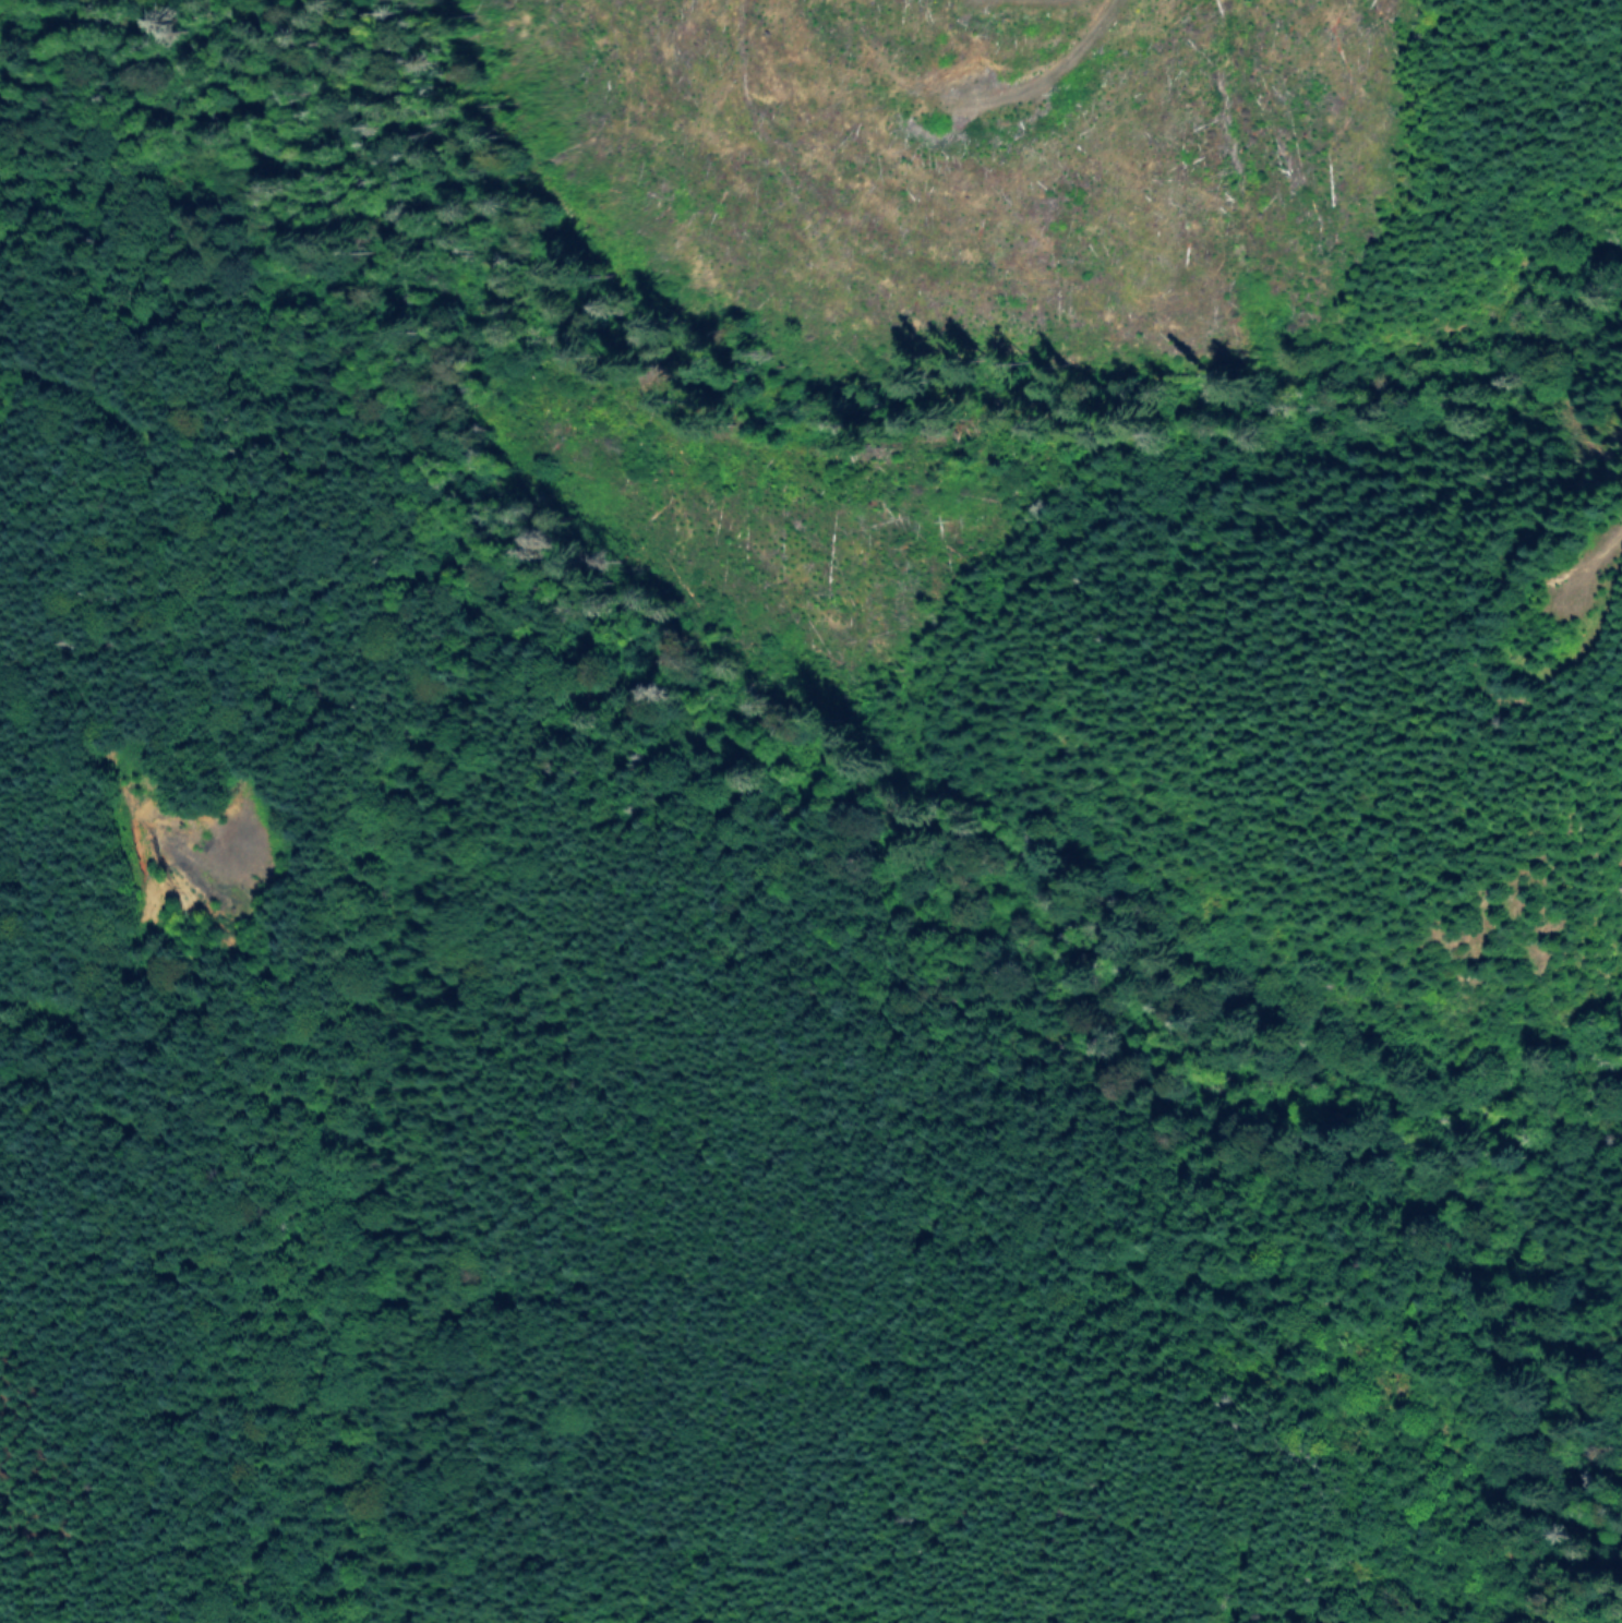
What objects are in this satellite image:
road: (319, 119)
road: (177, 525)

